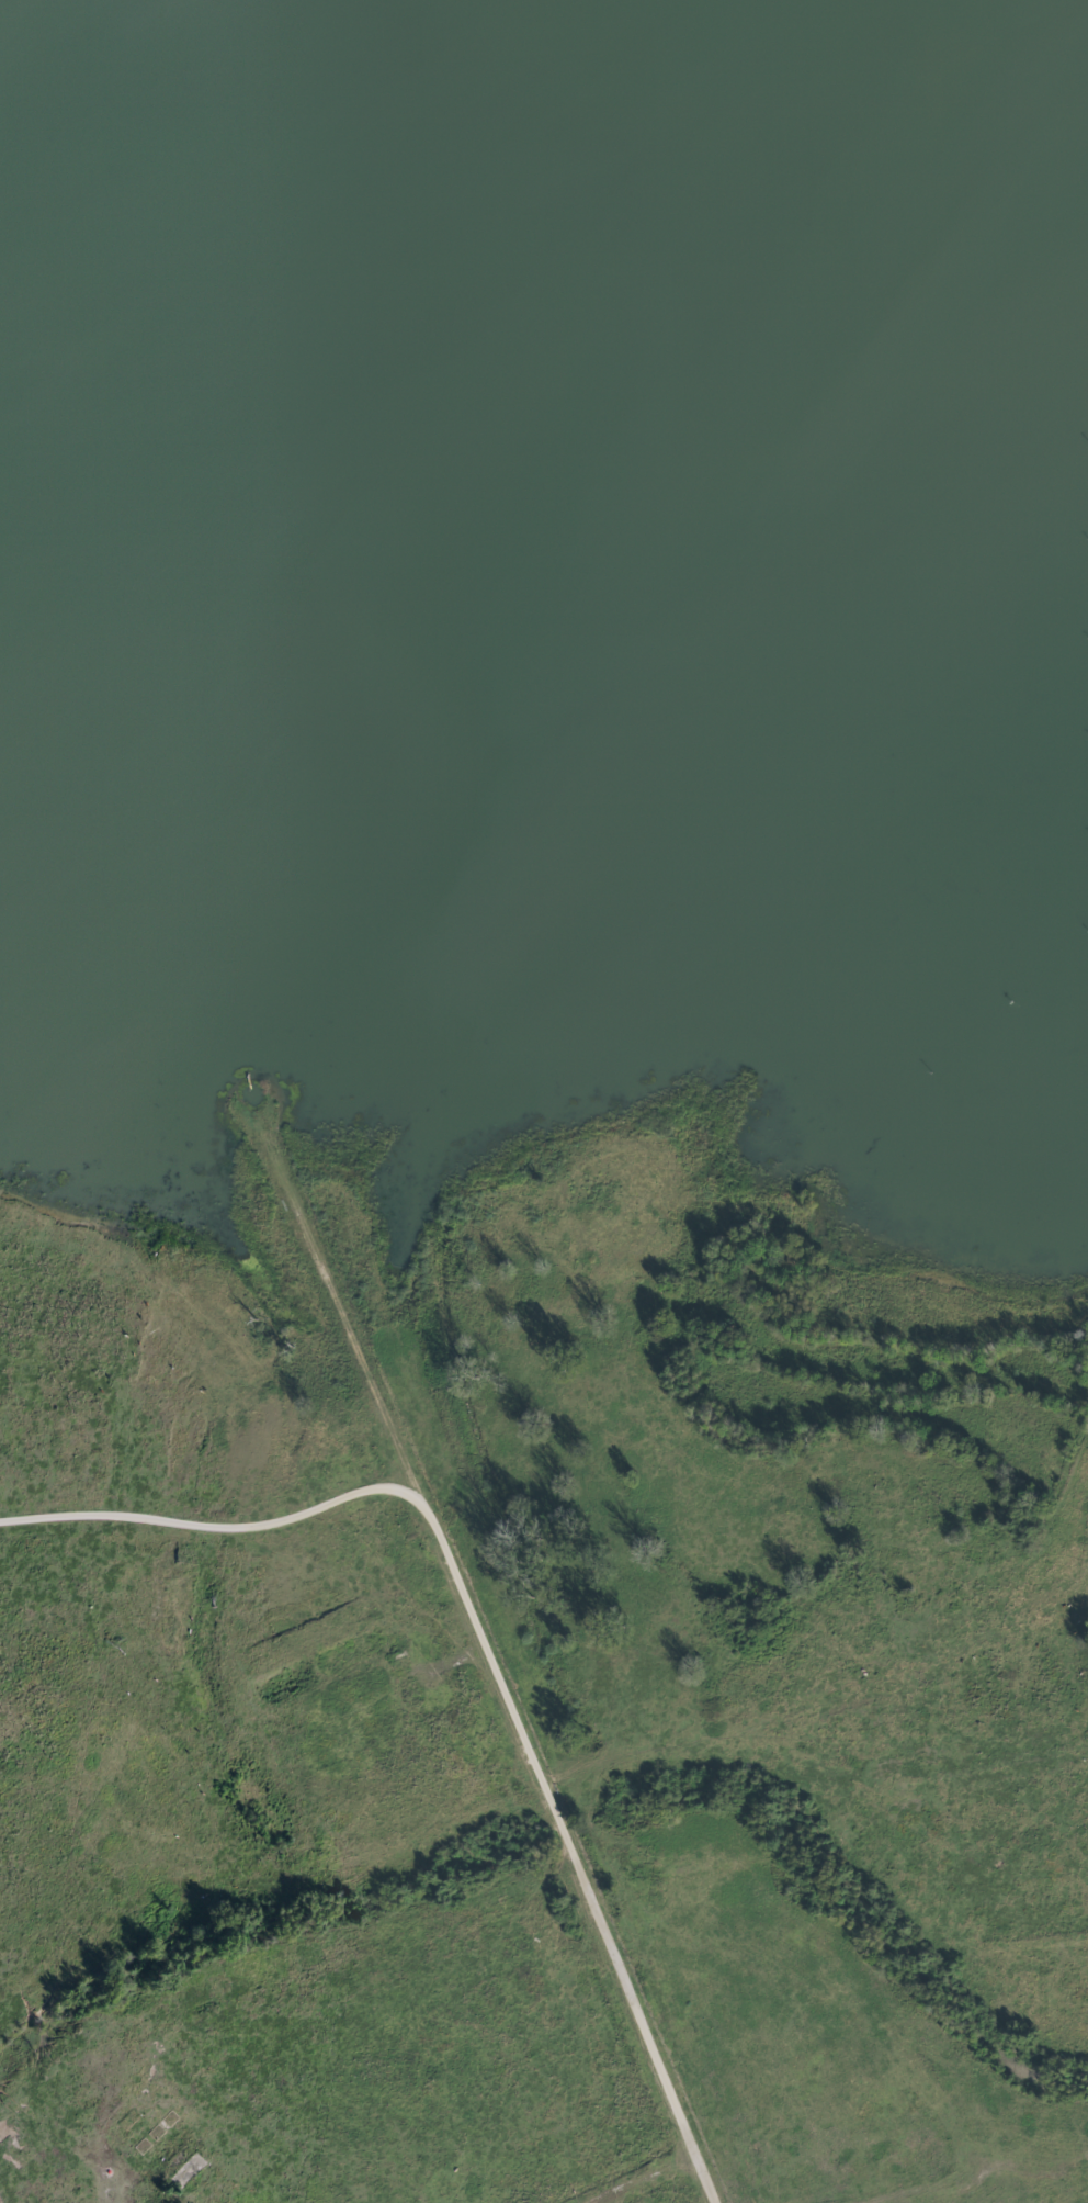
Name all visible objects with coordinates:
road: (610, 1943)

